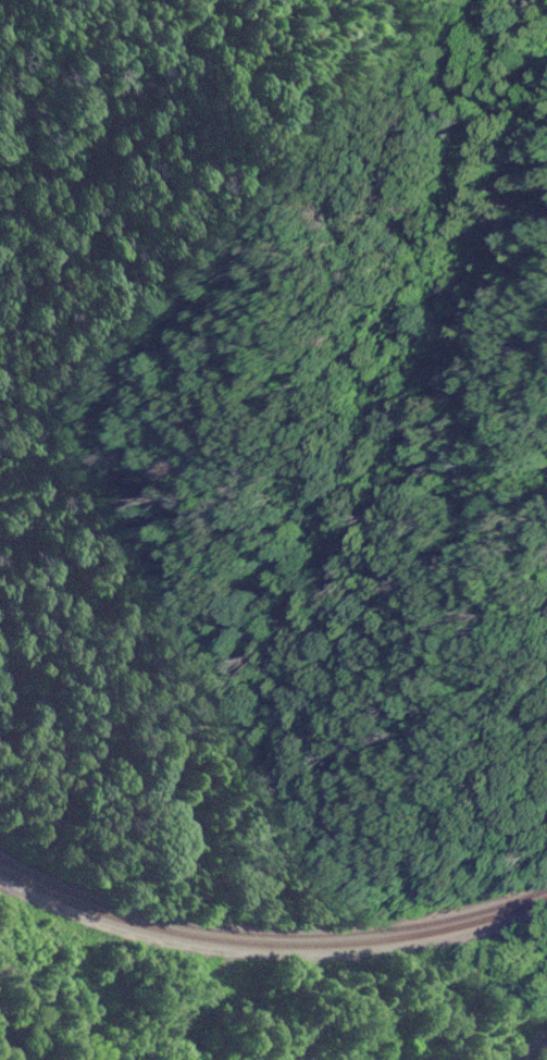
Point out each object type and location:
railway: (270, 933)
railway: (269, 942)
river: (9, 1047)
river: (533, 1050)

